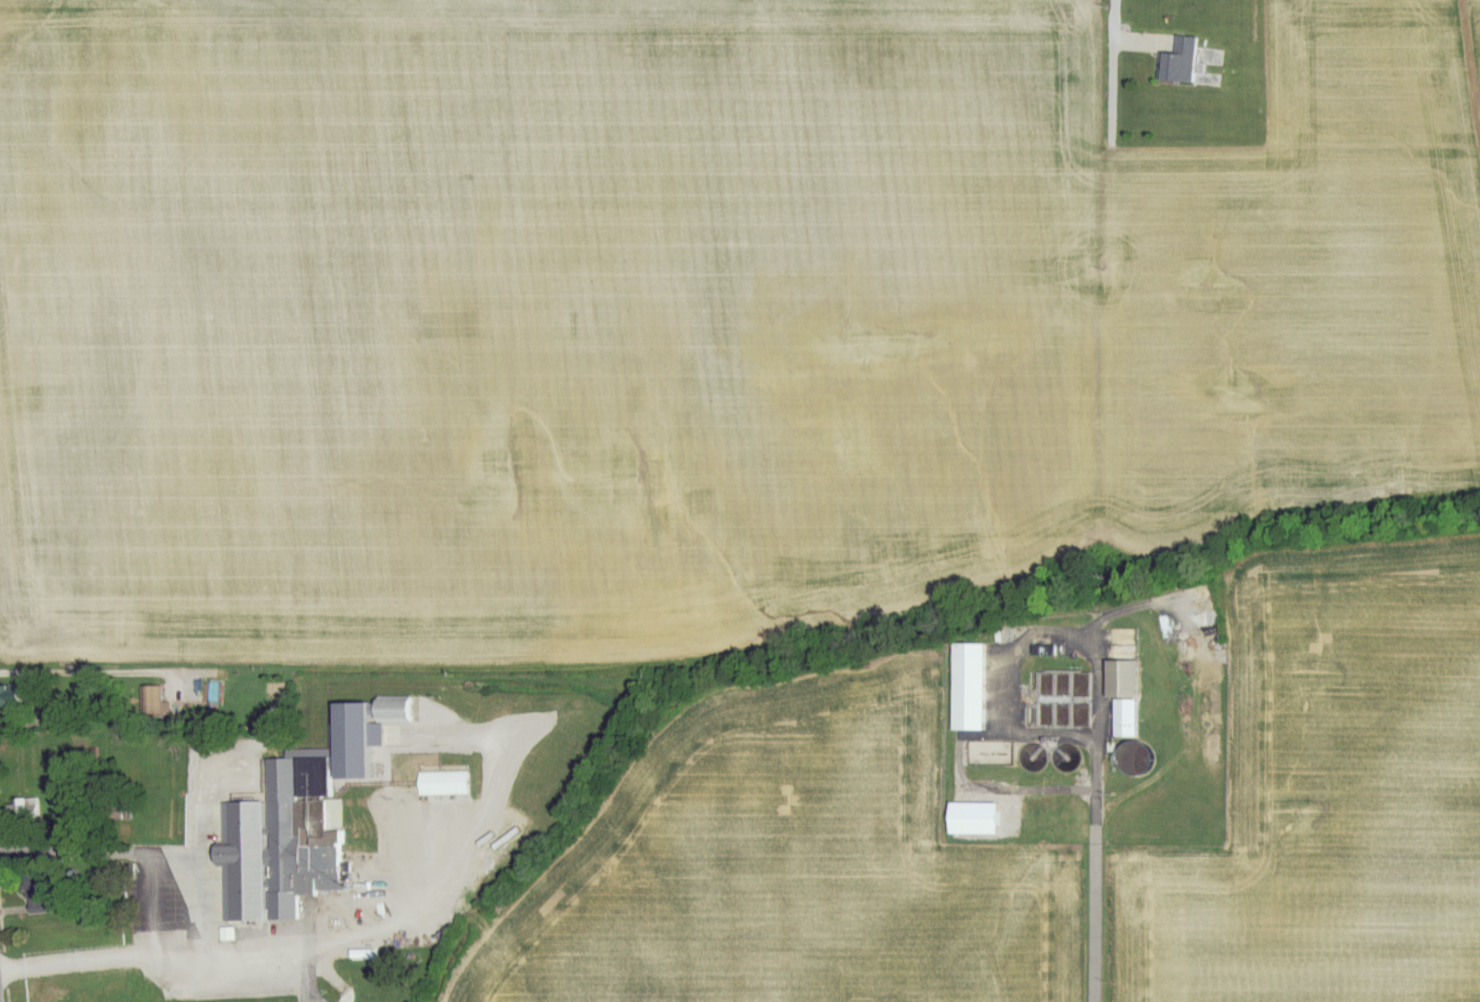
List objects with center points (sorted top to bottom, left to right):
building: (1178, 63)
road: (1115, 70)
road: (105, 672)
building: (966, 688)
building: (9, 697)
building: (1121, 697)
building: (390, 711)
building: (440, 784)
road: (1098, 815)
building: (289, 841)
road: (128, 854)
building: (38, 997)
road: (0, 1001)

